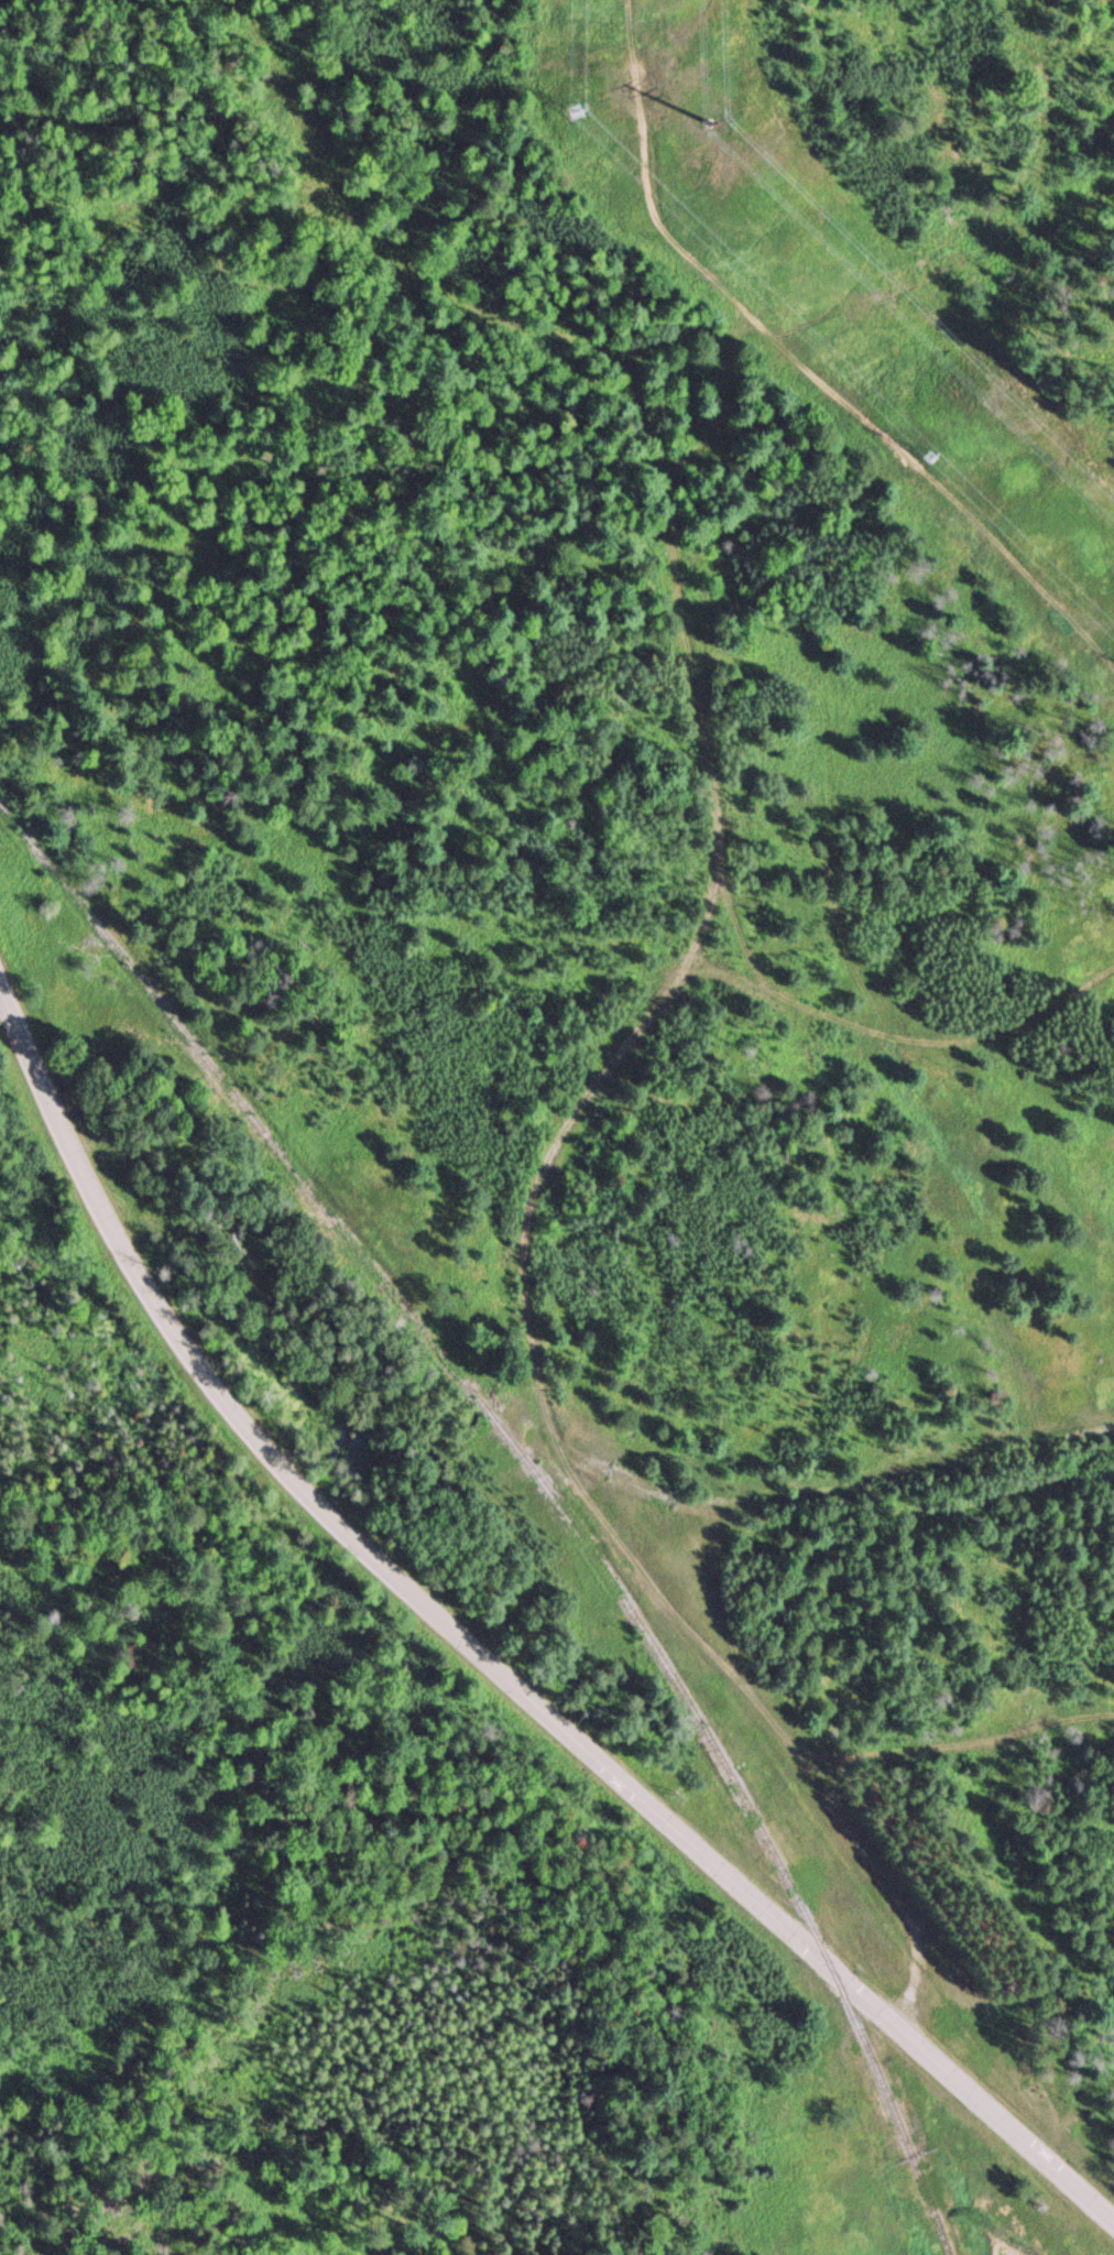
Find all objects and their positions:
power tower: (580, 113)
power tower: (740, 132)
power tower: (933, 455)
road: (569, 1455)
railway: (545, 1486)
road: (489, 1657)

